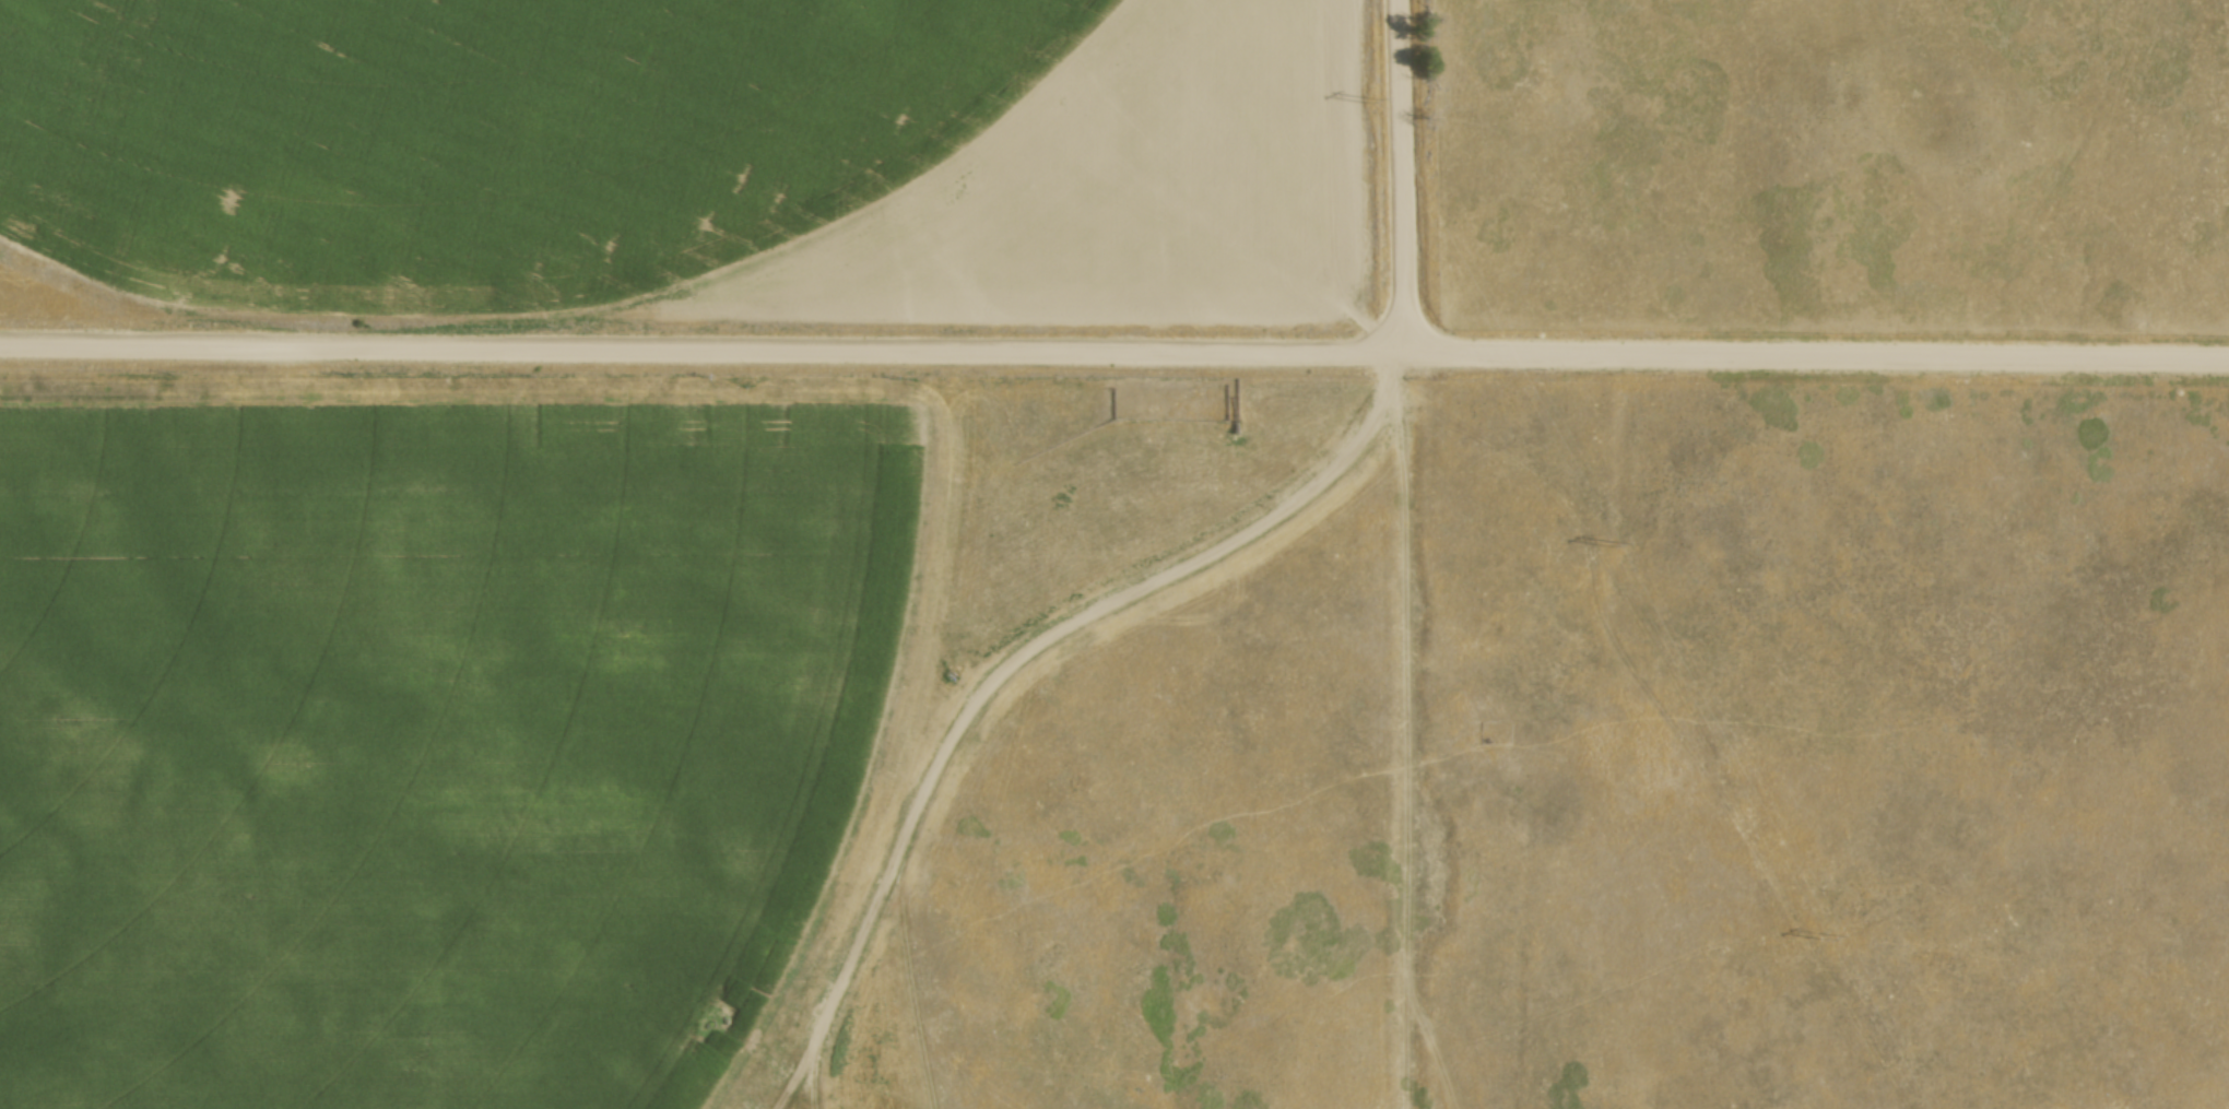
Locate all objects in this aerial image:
power tower: (1368, 99)
crop: (694, 154)
road: (1405, 175)
road: (1114, 349)
power tower: (1607, 538)
crop: (440, 745)
power tower: (1825, 935)

